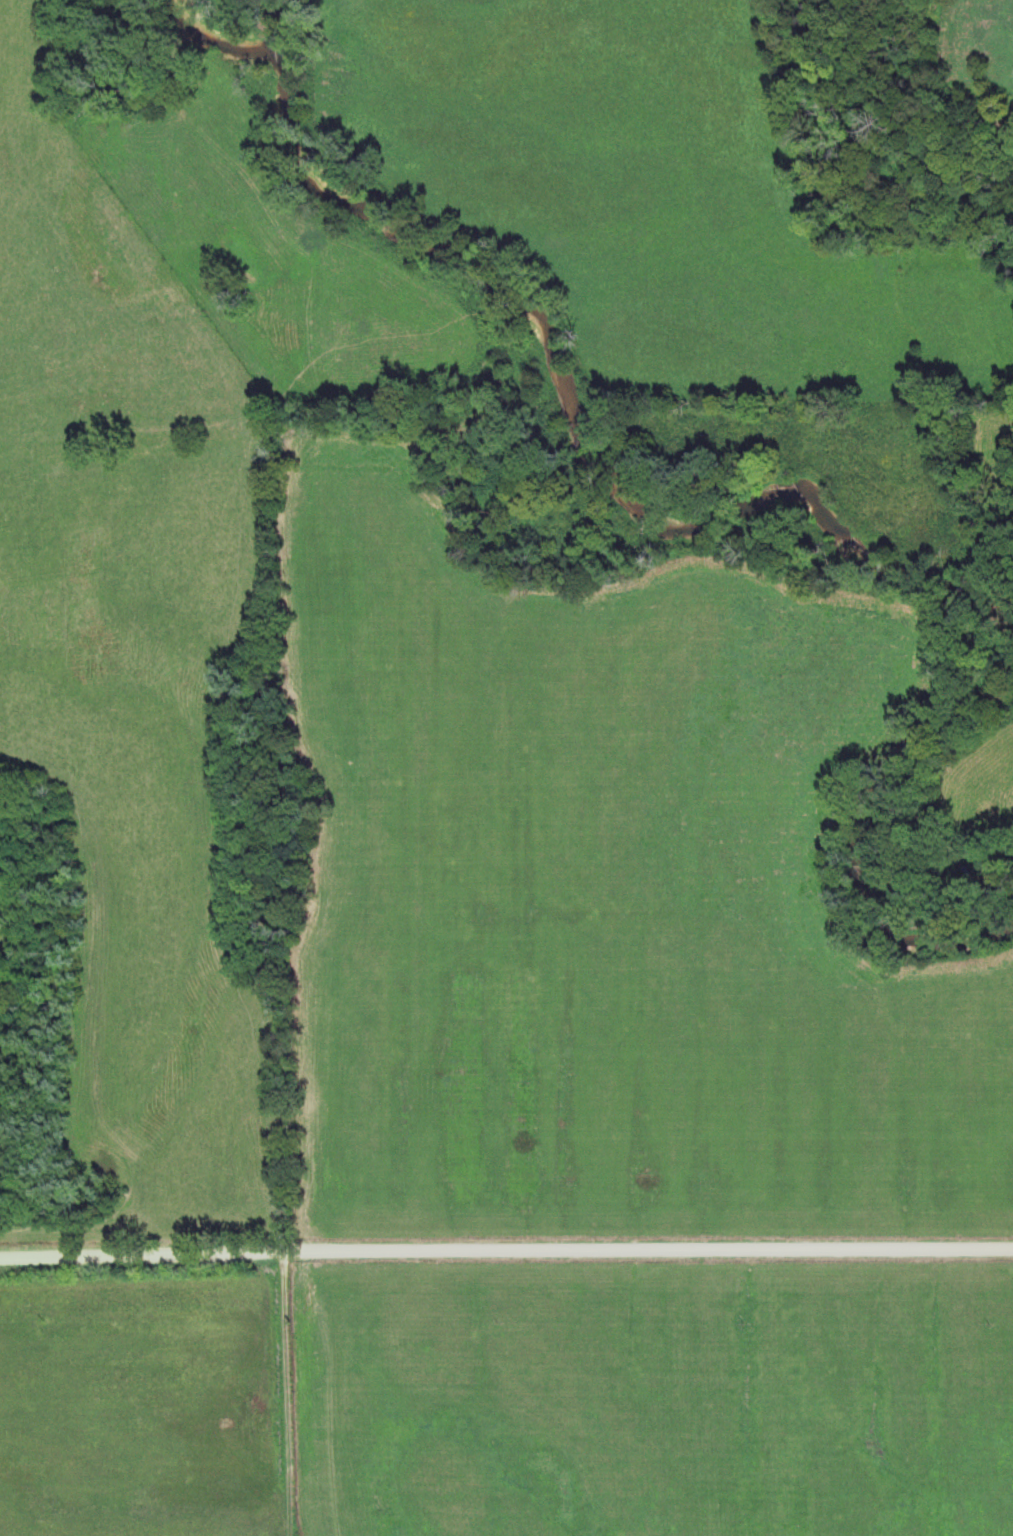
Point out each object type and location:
road: (506, 1251)

